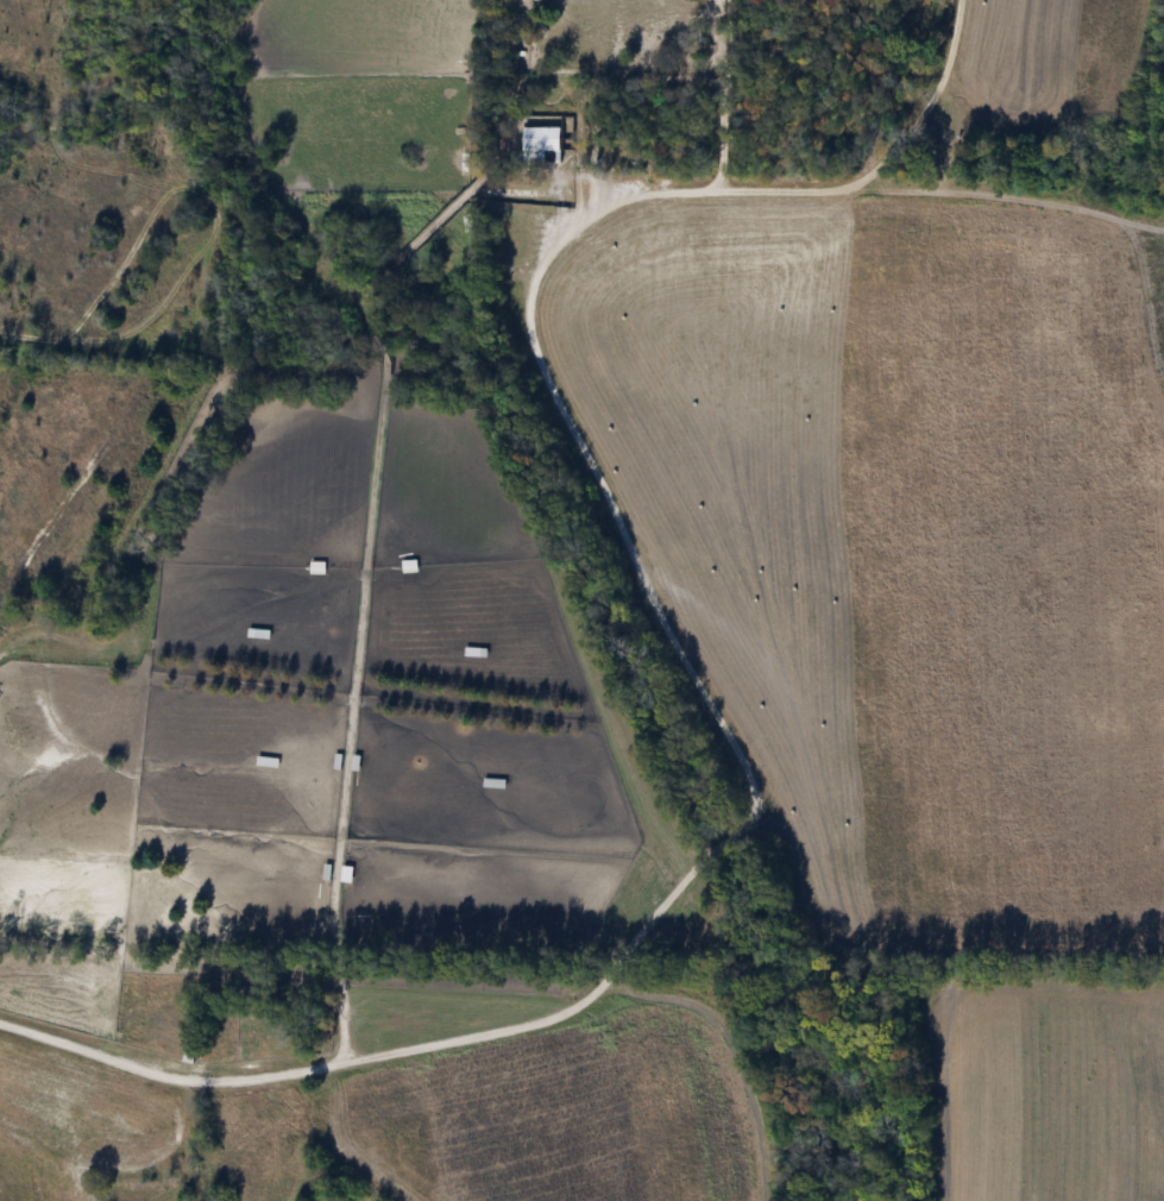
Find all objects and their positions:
building: (539, 140)
building: (473, 650)
road: (692, 672)

